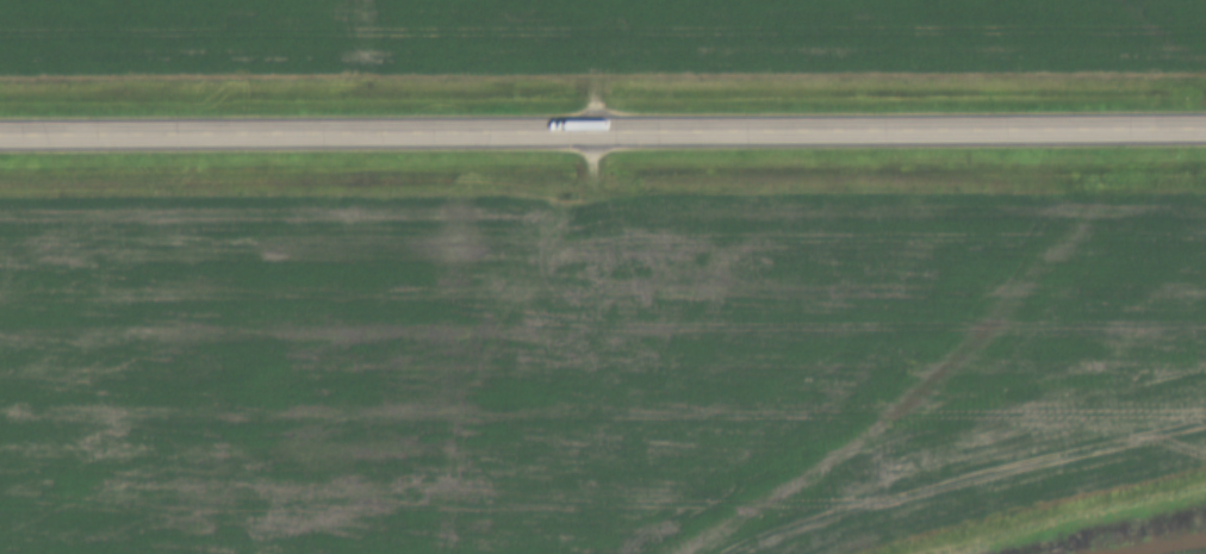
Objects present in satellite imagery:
crop: (597, 36)
road: (602, 127)
crop: (586, 366)

